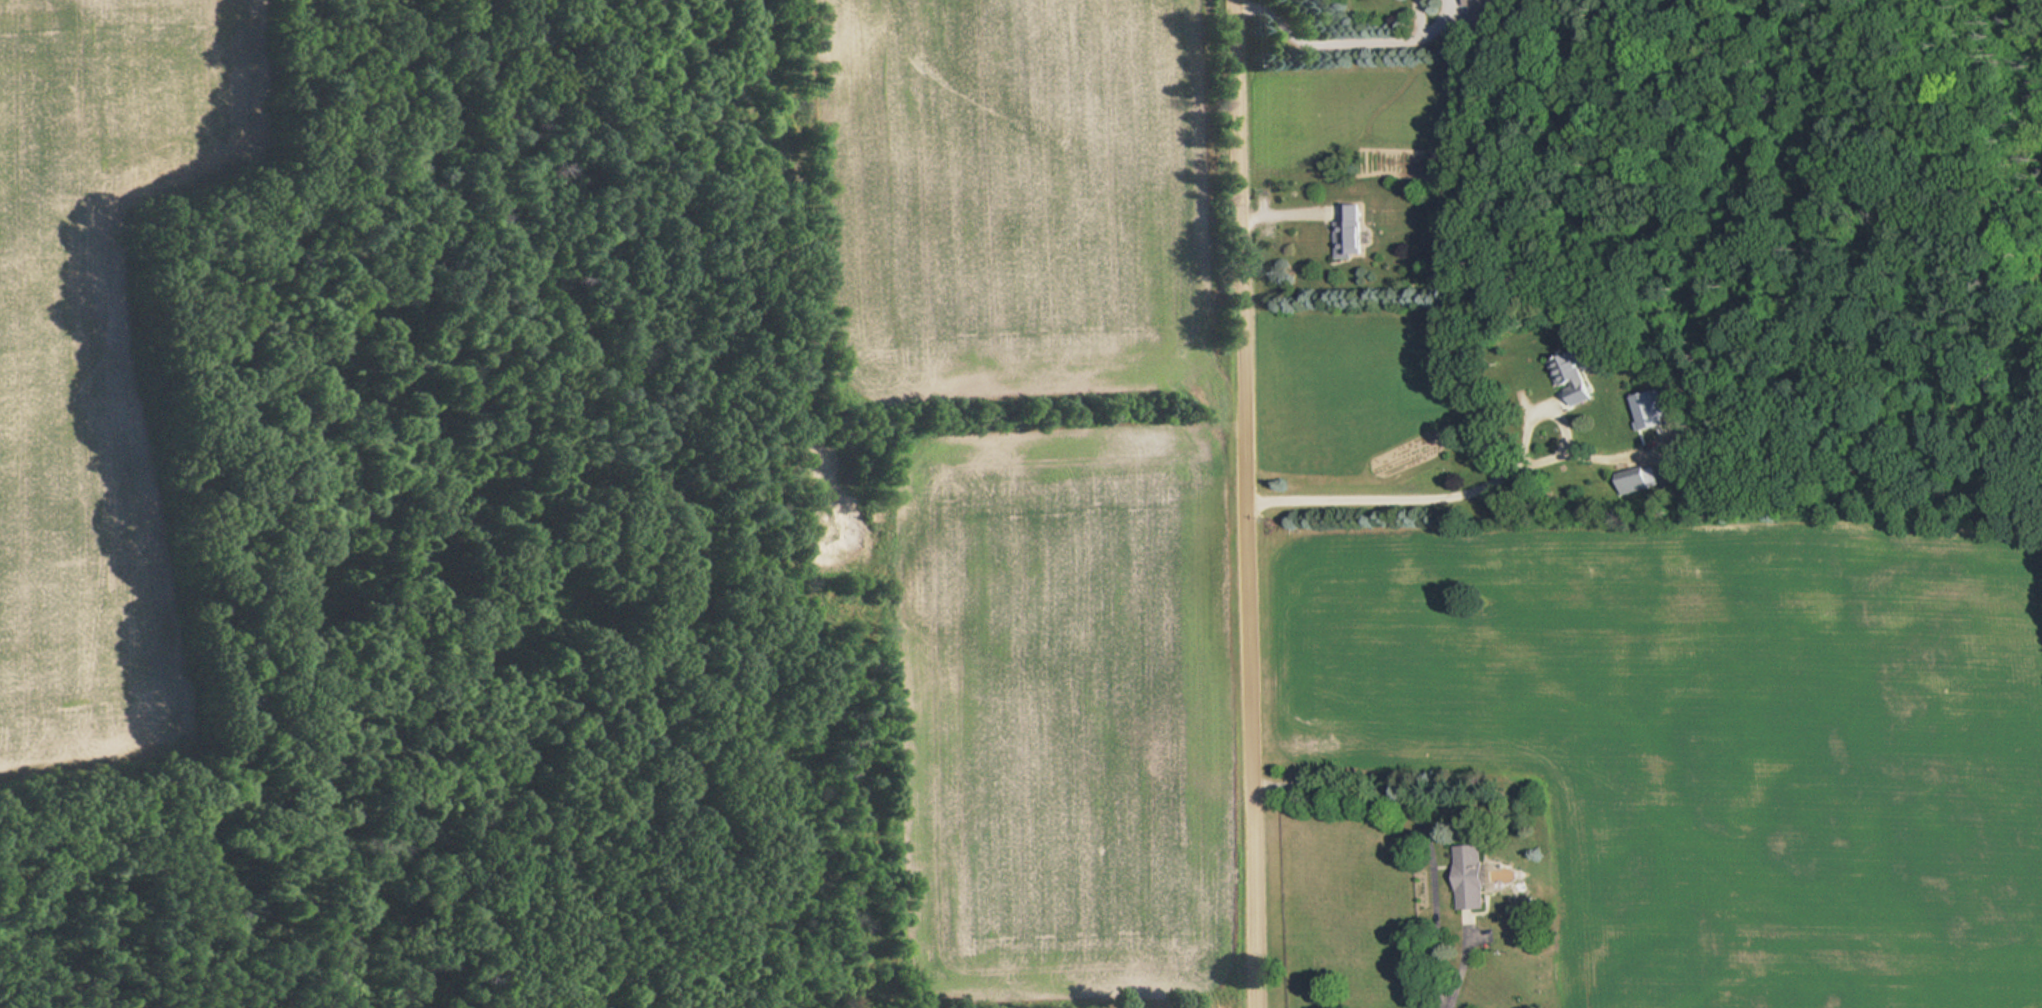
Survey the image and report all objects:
building: (1478, 6)
river: (2031, 6)
building: (1351, 231)
building: (1574, 374)
building: (1652, 408)
building: (1639, 478)
road: (1247, 503)
building: (1472, 875)

